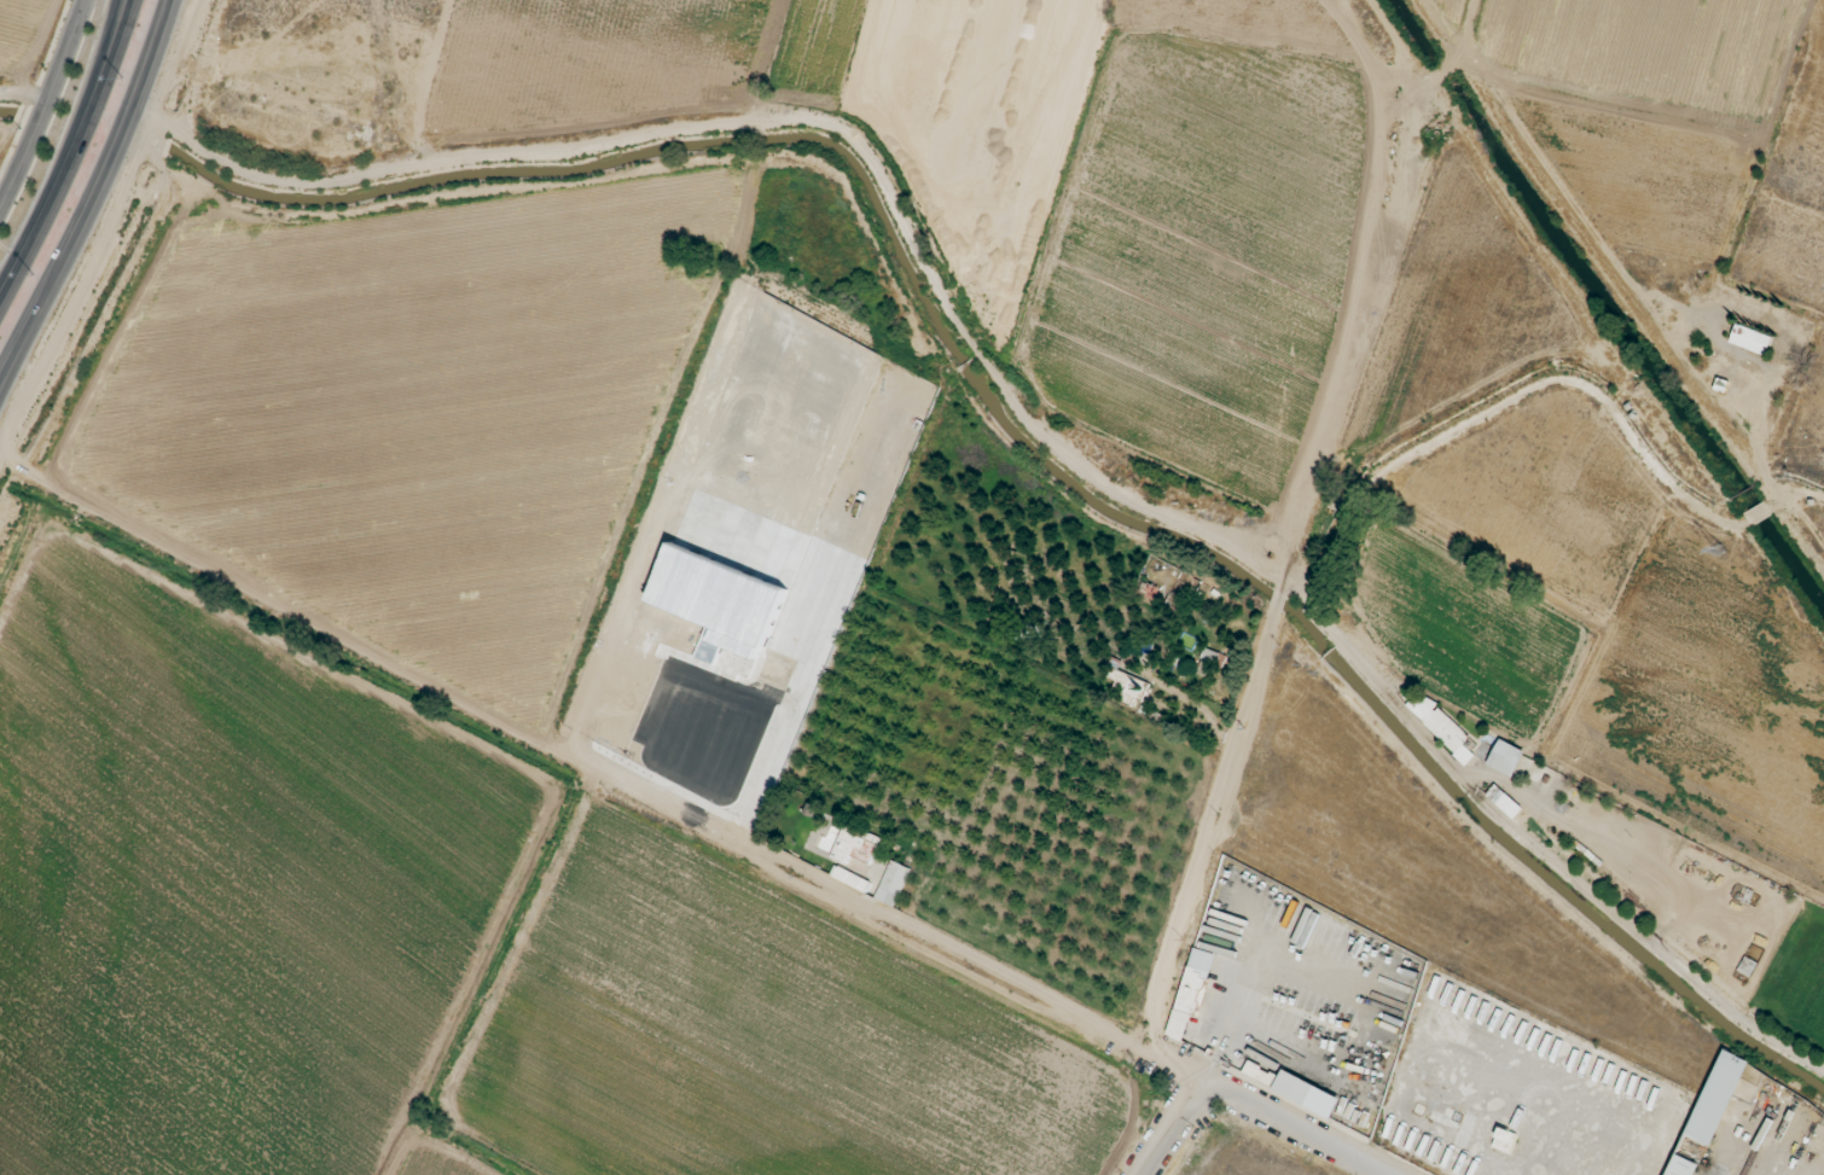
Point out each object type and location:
power tower: (1719, 559)

